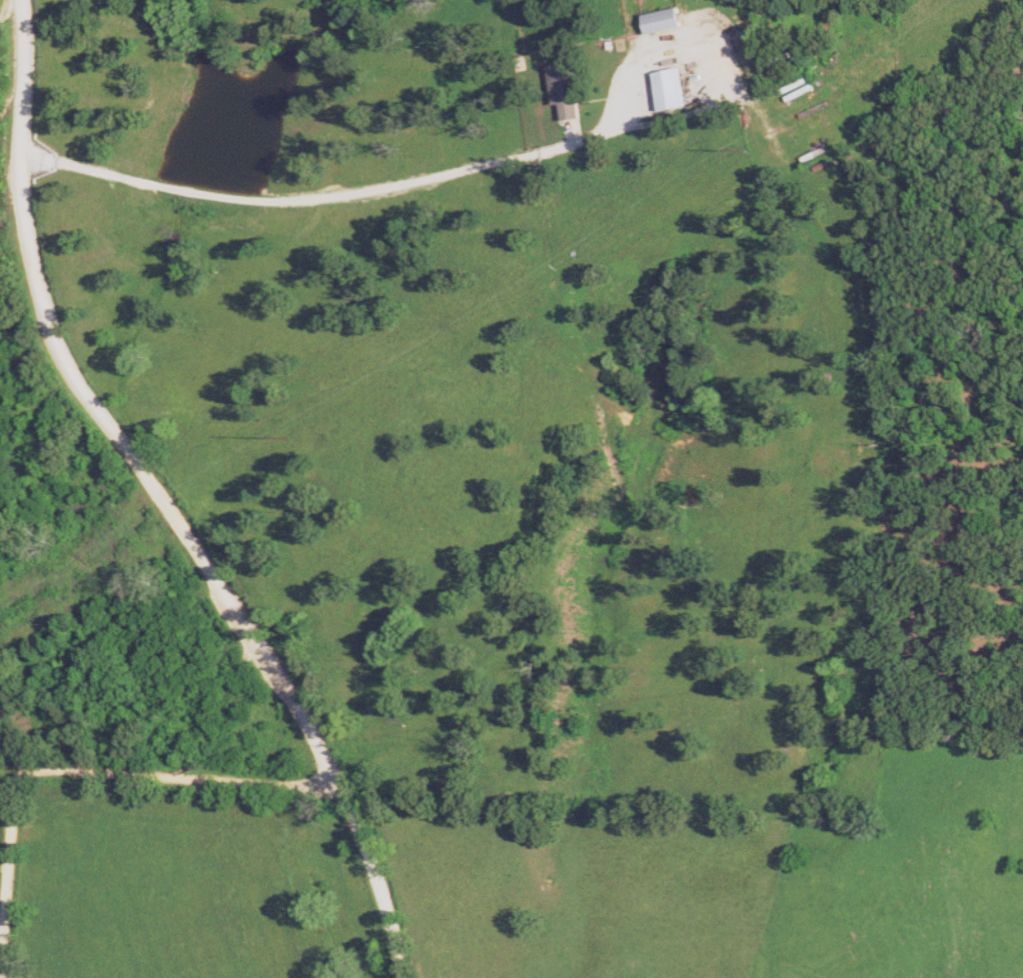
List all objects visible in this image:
building: (662, 21)
building: (671, 89)
building: (562, 90)
road: (340, 195)
road: (164, 499)
road: (172, 775)
road: (4, 781)
road: (7, 880)

